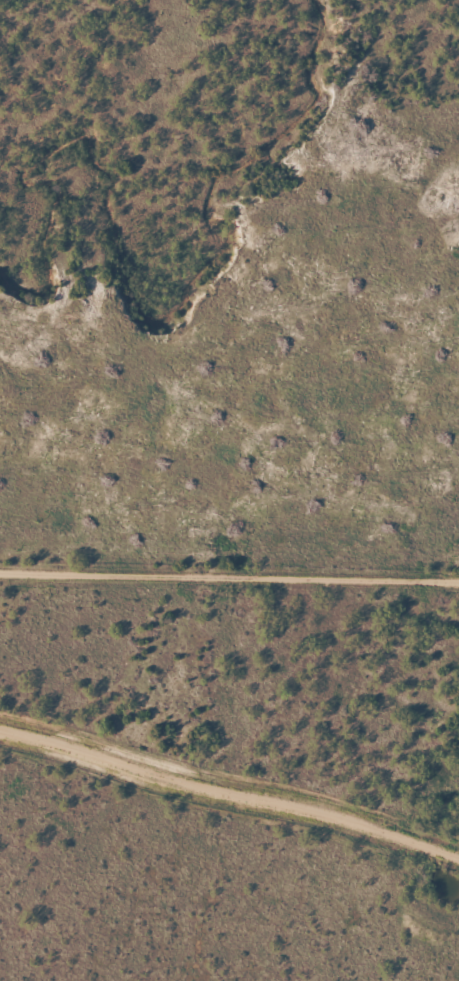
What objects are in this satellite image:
road: (227, 827)

